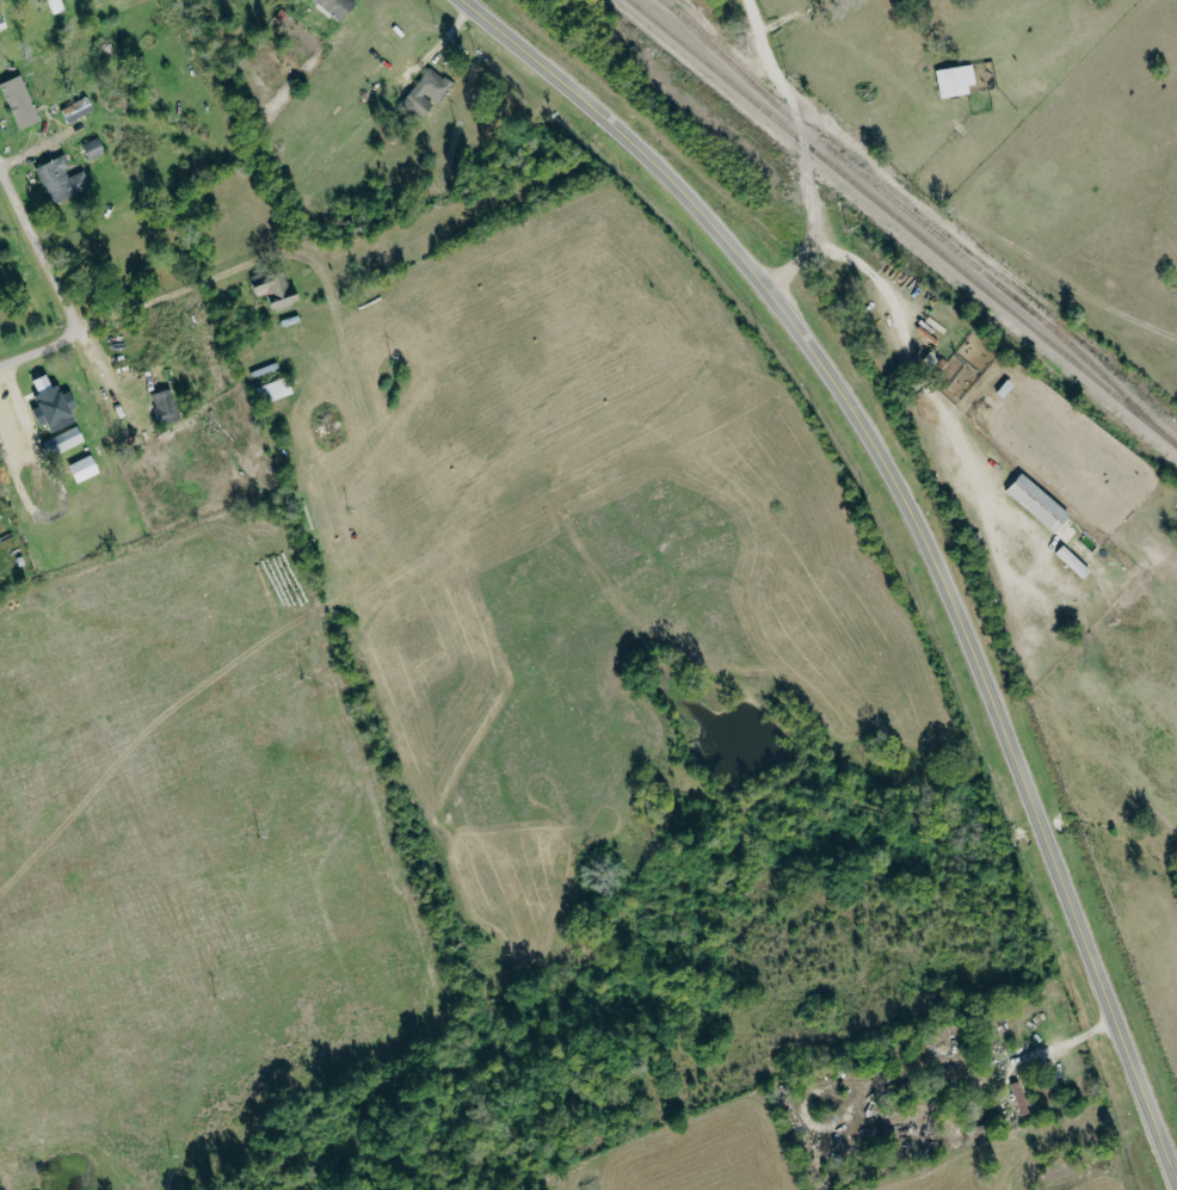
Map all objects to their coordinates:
building: (338, 7)
building: (1, 24)
building: (956, 79)
building: (429, 91)
building: (20, 100)
building: (78, 109)
building: (94, 148)
road: (802, 149)
road: (0, 171)
building: (62, 179)
railway: (905, 208)
railway: (904, 221)
road: (41, 251)
building: (277, 291)
road: (158, 306)
road: (42, 349)
road: (100, 372)
building: (277, 389)
building: (53, 403)
building: (166, 406)
building: (66, 440)
building: (85, 468)
building: (1039, 501)
road: (917, 526)
building: (1067, 531)
building: (1074, 561)
building: (1022, 1097)

